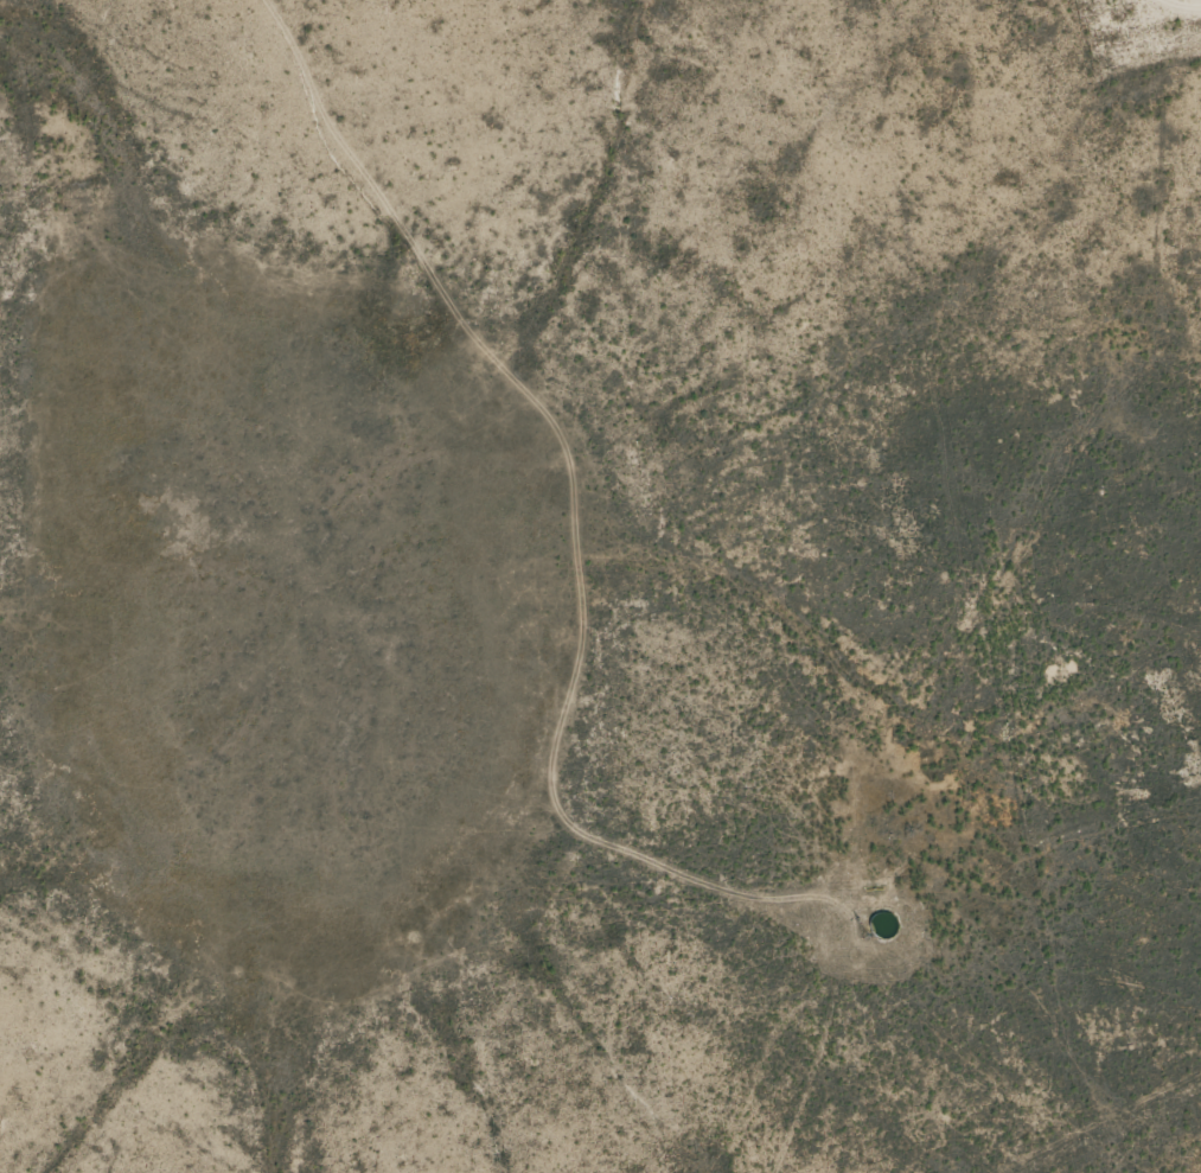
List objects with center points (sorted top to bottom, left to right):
road: (1129, 859)

